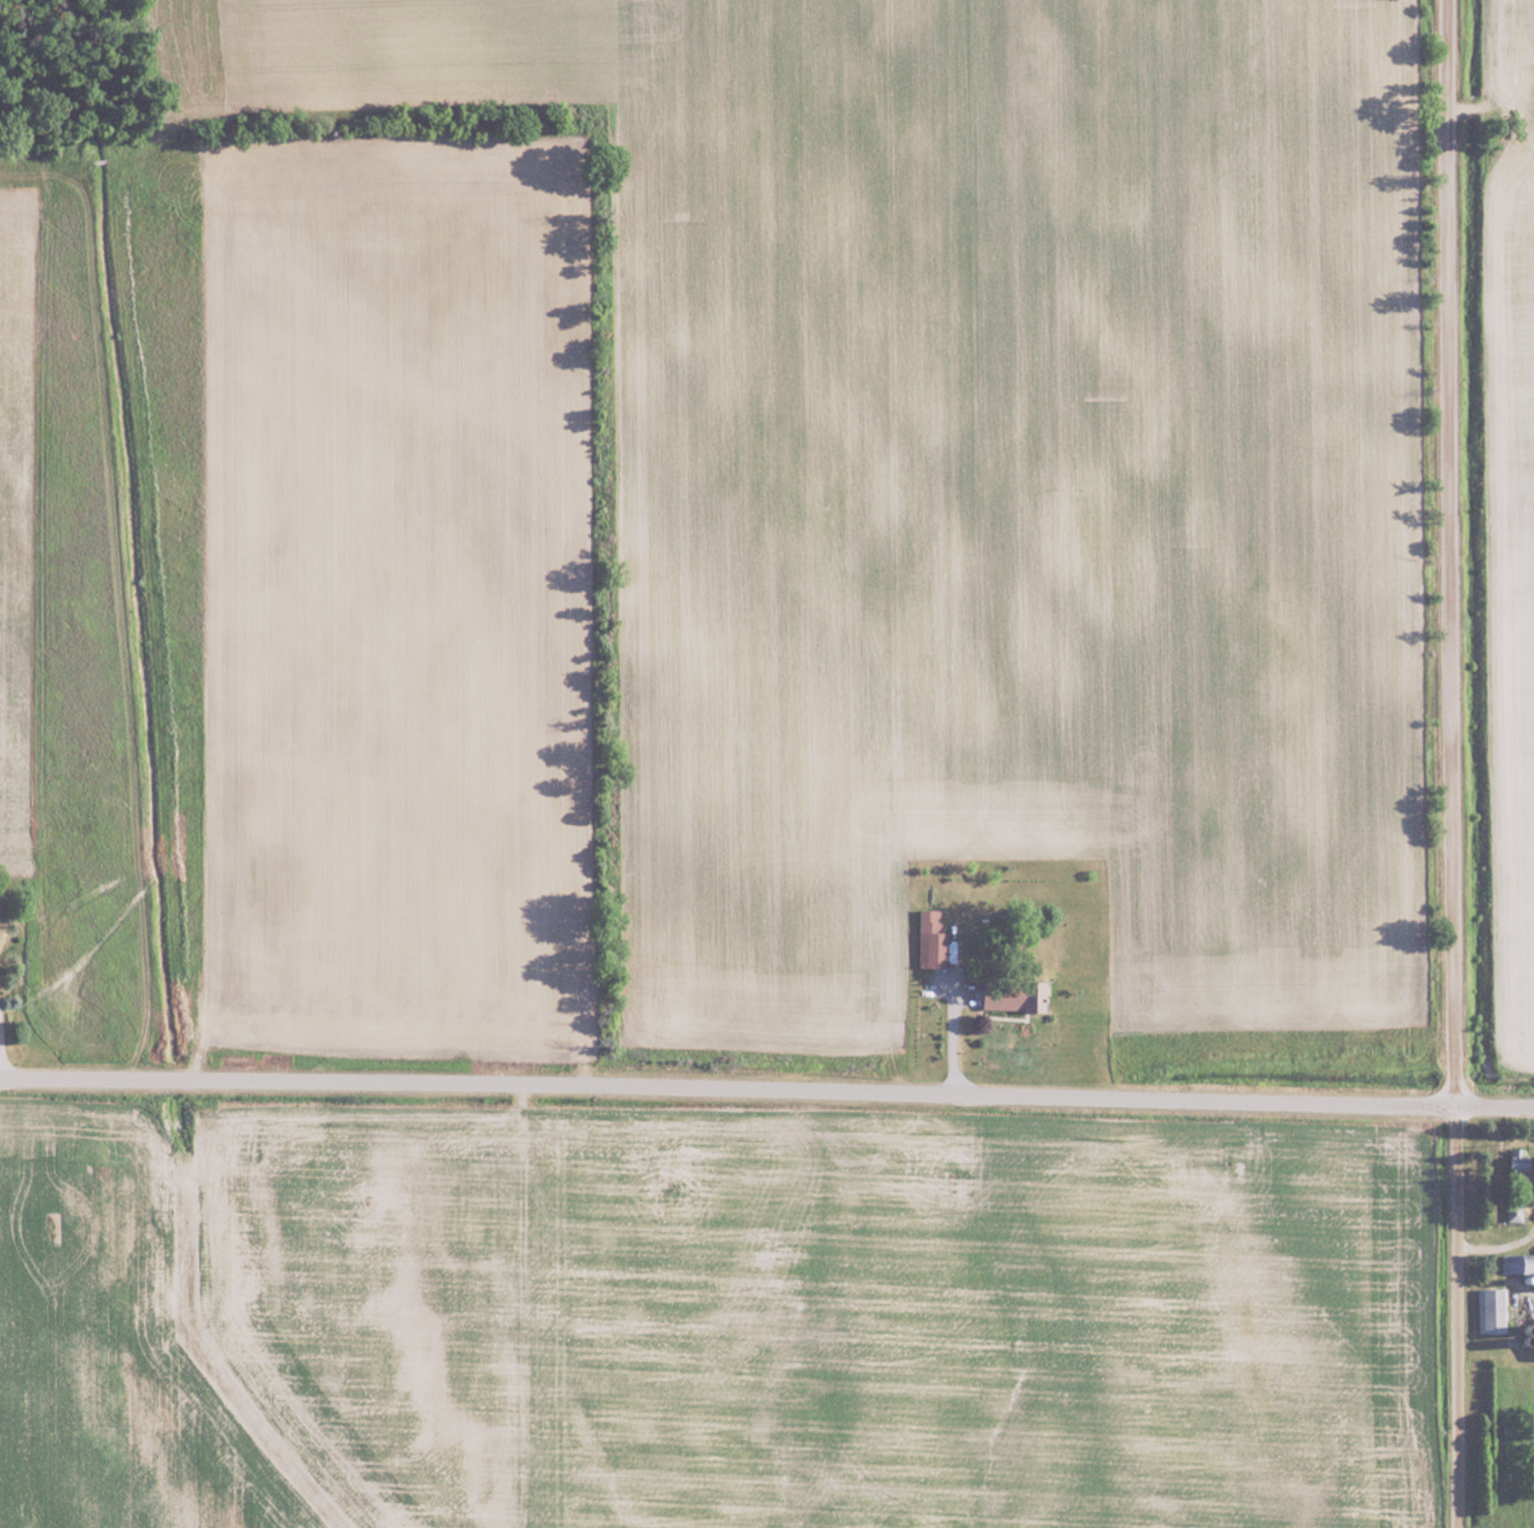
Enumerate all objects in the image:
road: (1455, 554)
building: (932, 938)
building: (1014, 995)
road: (767, 1091)
building: (1520, 1164)
building: (1515, 1213)
building: (1518, 1265)
building: (1491, 1310)
road: (1459, 1318)

